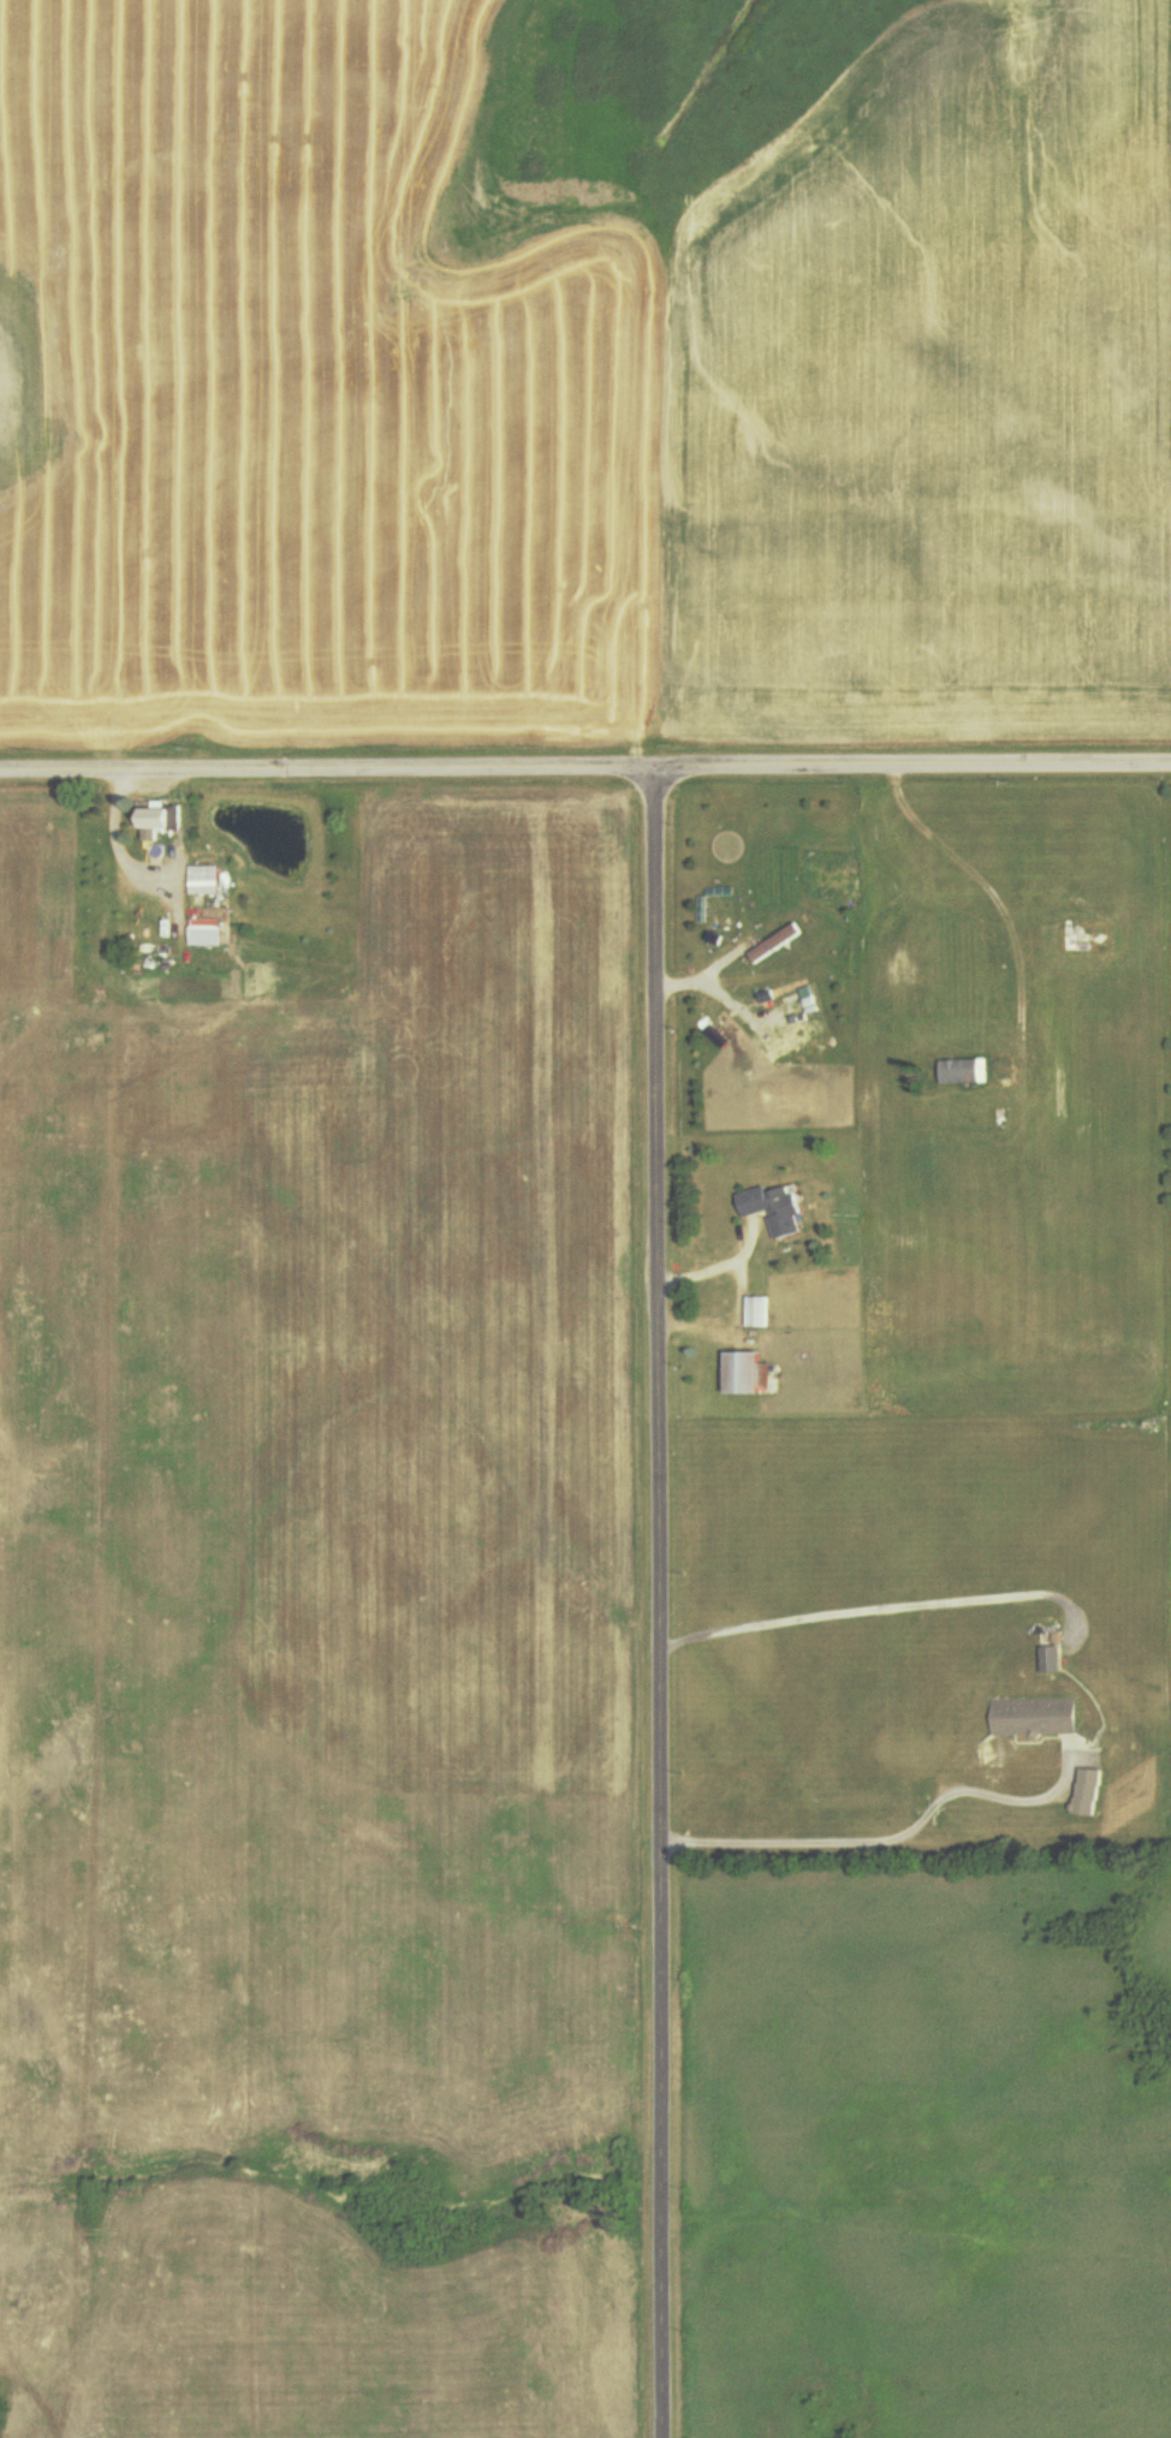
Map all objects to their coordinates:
crop: (577, 392)
road: (909, 768)
road: (323, 773)
road: (1011, 952)
road: (732, 1297)
crop: (460, 1328)
road: (652, 1604)

